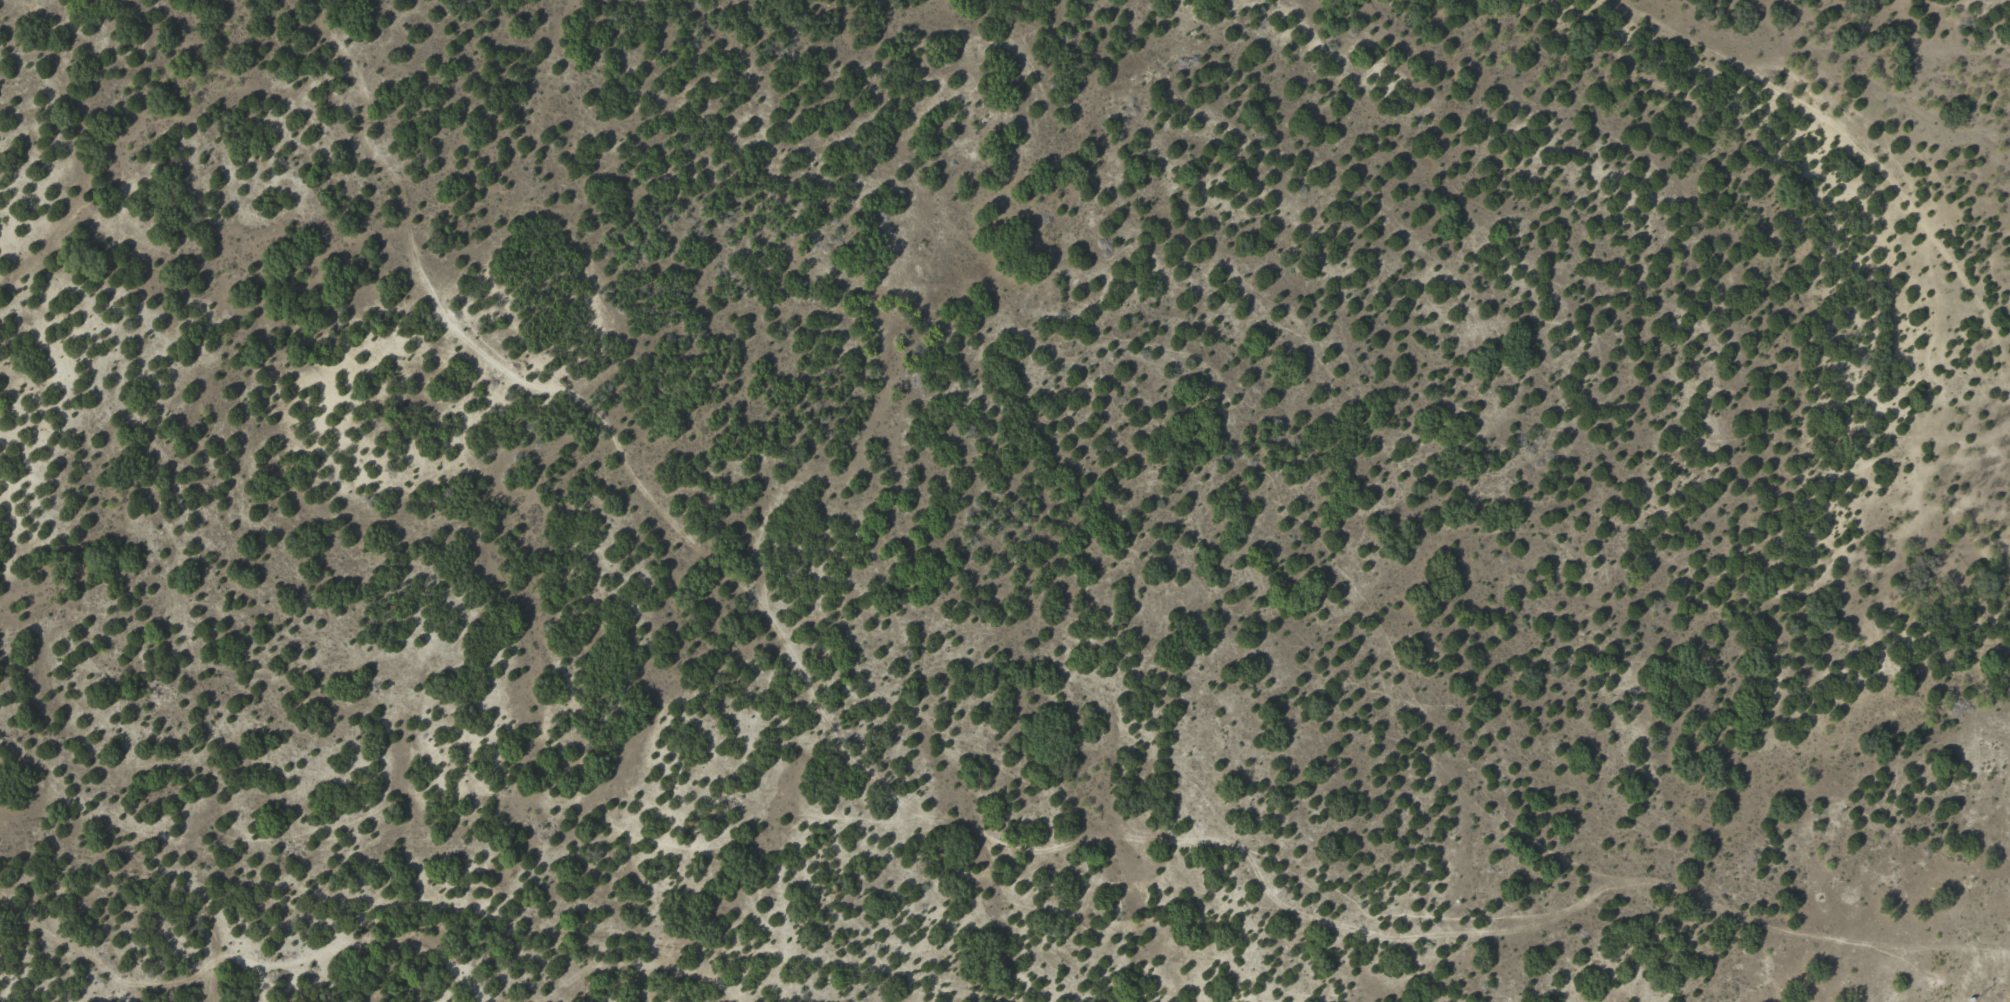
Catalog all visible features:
road: (932, 820)

